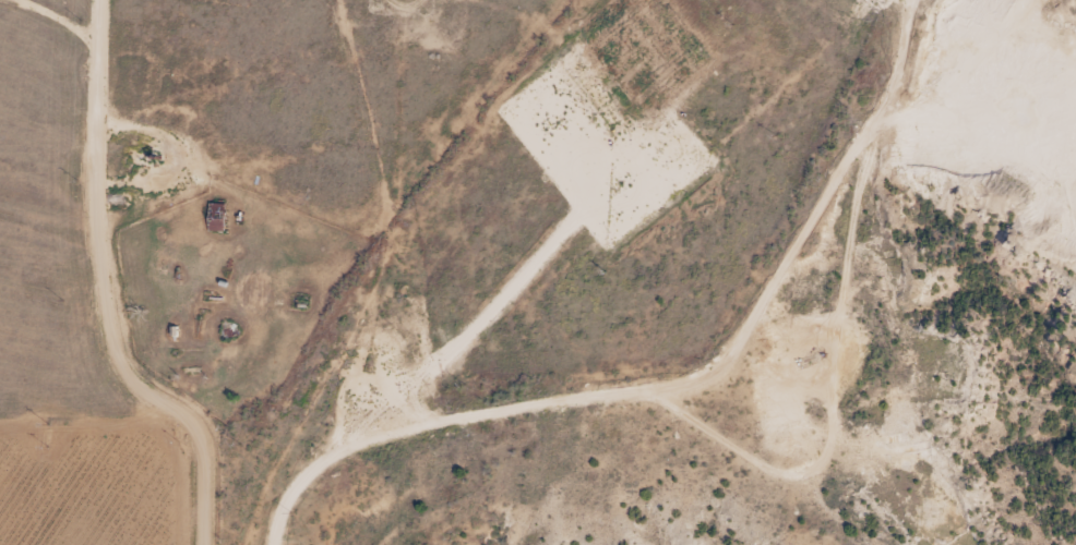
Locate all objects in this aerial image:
building: (213, 217)
road: (136, 231)
road: (651, 370)
road: (104, 451)
road: (208, 494)

